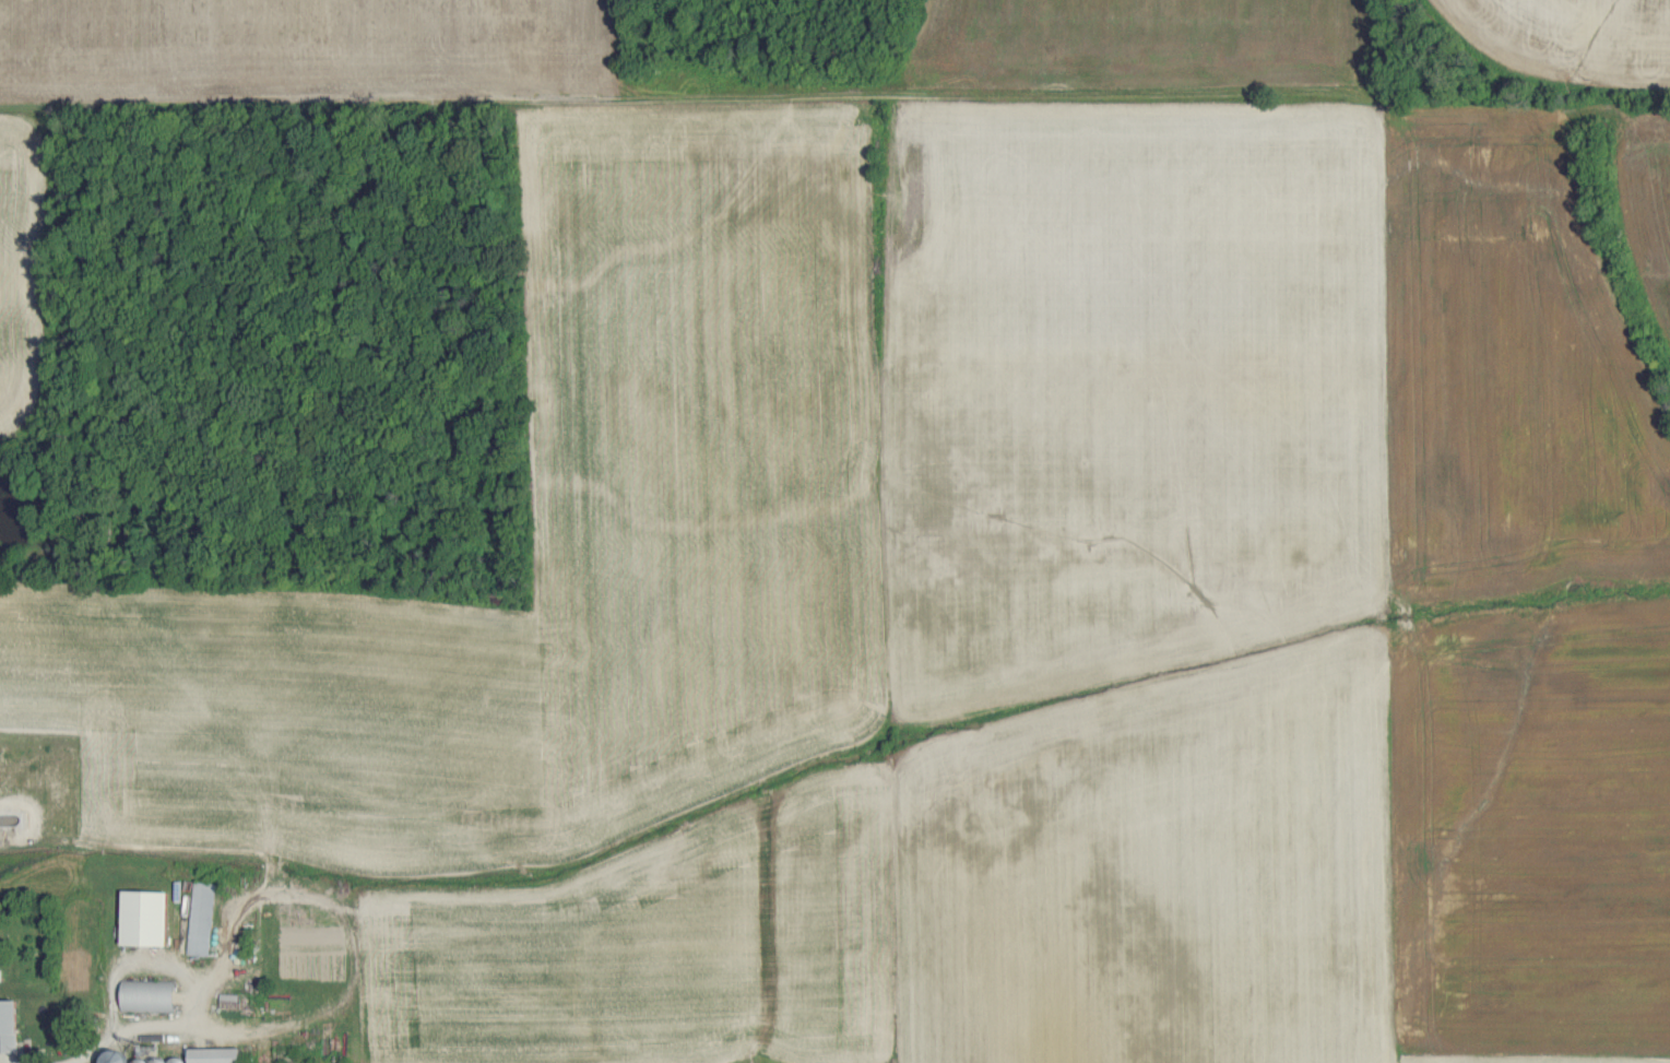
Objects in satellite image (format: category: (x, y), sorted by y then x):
building: (150, 917)
building: (203, 918)
building: (1, 973)
building: (152, 994)
building: (11, 1025)
road: (143, 1043)
building: (221, 1054)

